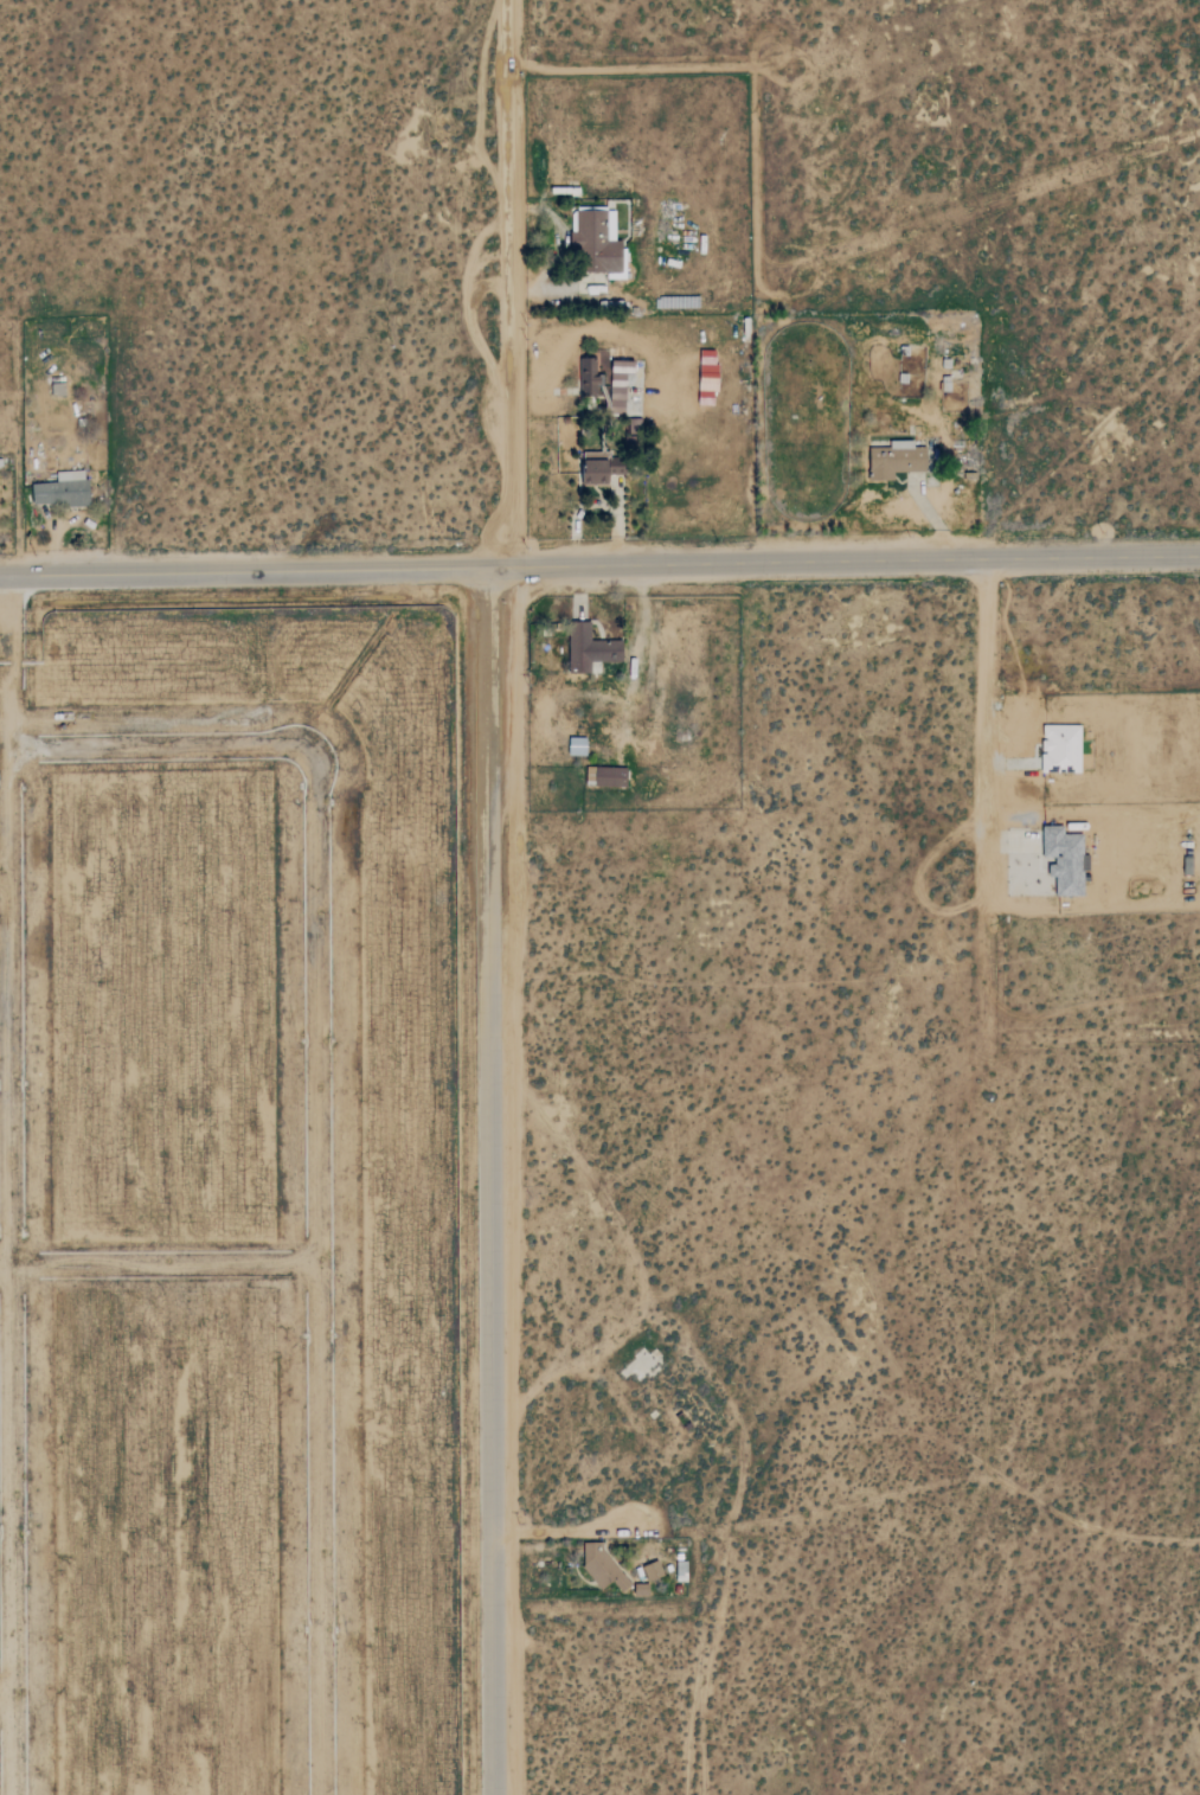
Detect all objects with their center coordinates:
building: (597, 239)
road: (564, 245)
road: (502, 283)
building: (605, 383)
building: (892, 457)
building: (62, 489)
road: (599, 566)
road: (578, 591)
road: (640, 621)
building: (588, 646)
building: (578, 746)
building: (1061, 749)
road: (1002, 763)
building: (611, 777)
road: (977, 801)
road: (1006, 841)
building: (1066, 860)
road: (1091, 1041)
road: (312, 1111)
road: (490, 1180)
road: (156, 1267)
road: (1, 1528)
building: (603, 1569)
building: (653, 1570)
road: (1, 1704)

